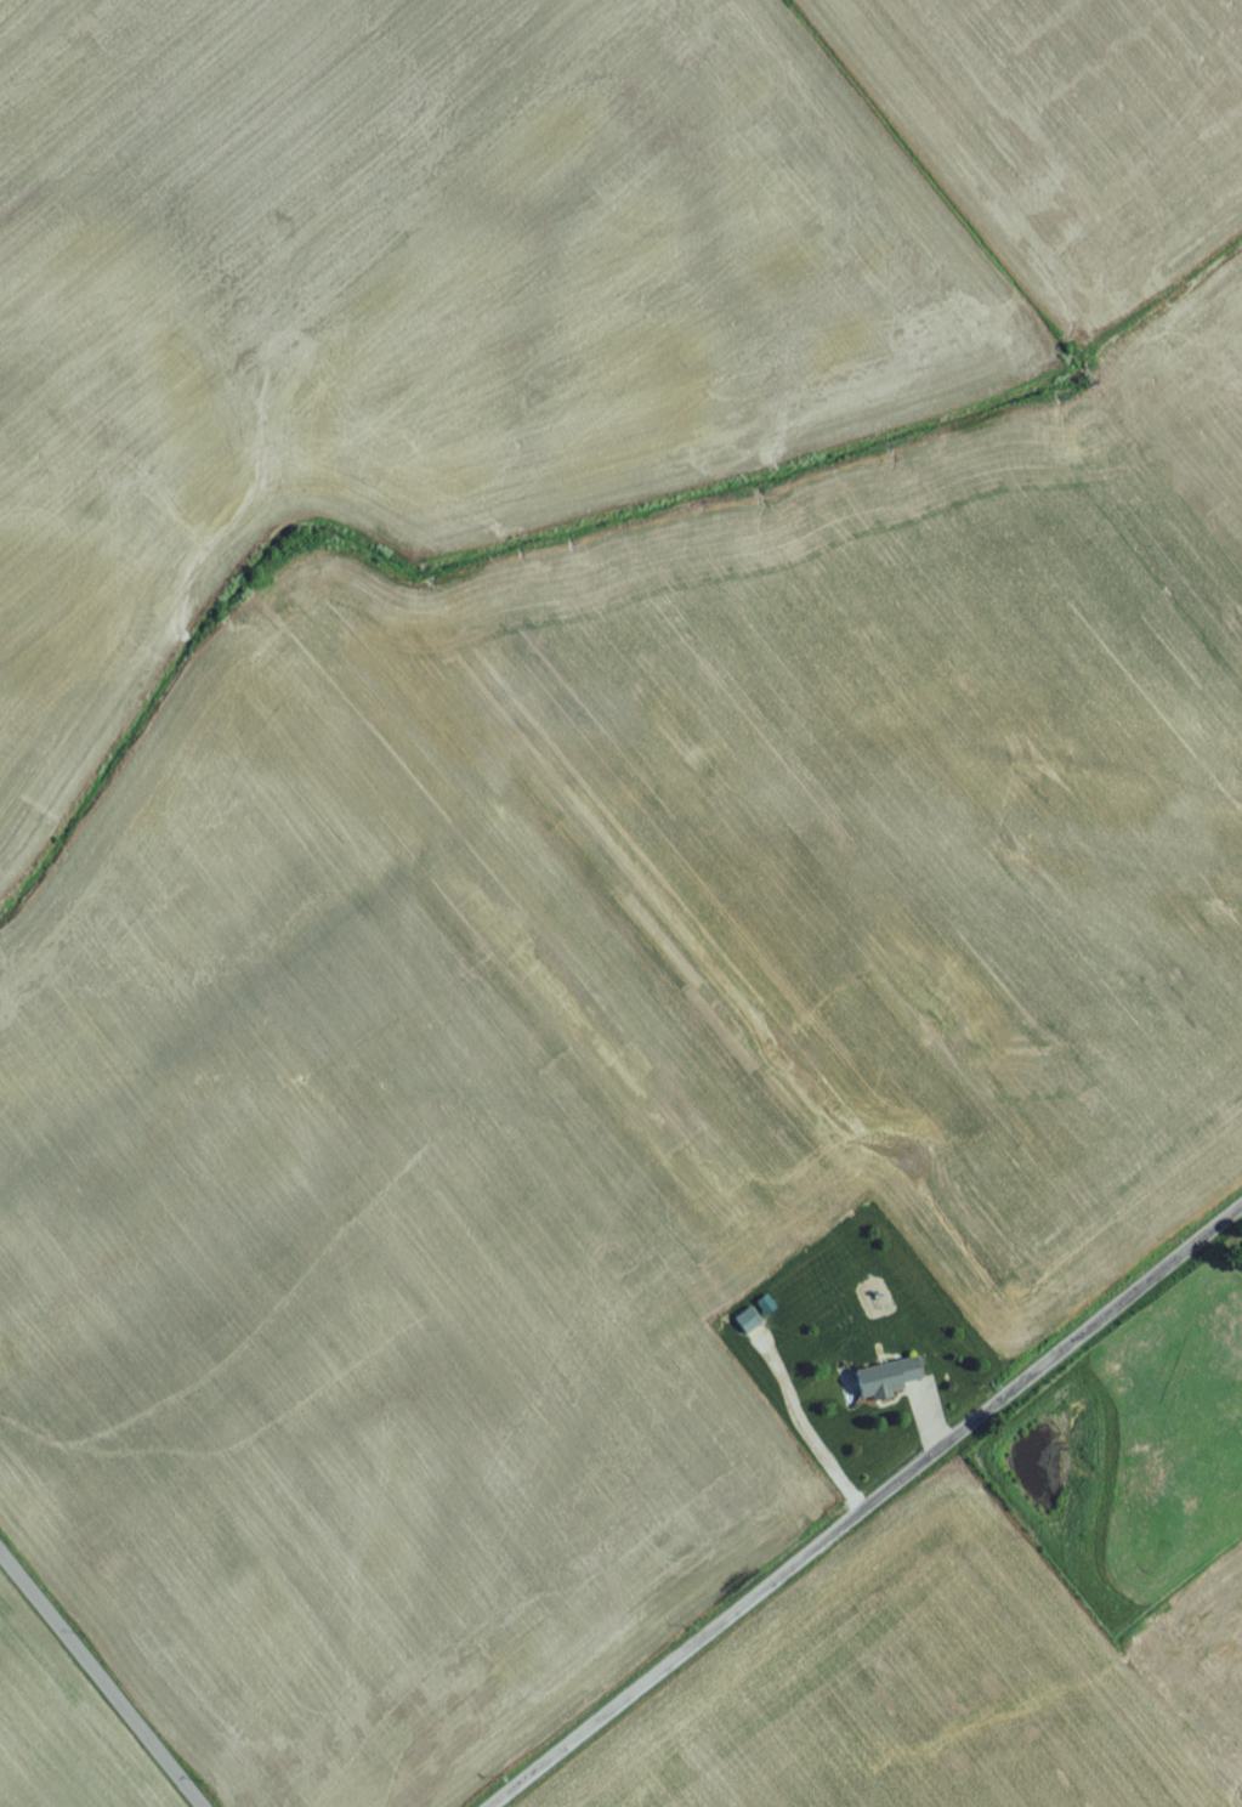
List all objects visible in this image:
building: (743, 1326)
building: (879, 1383)
road: (870, 1509)
road: (93, 1687)

